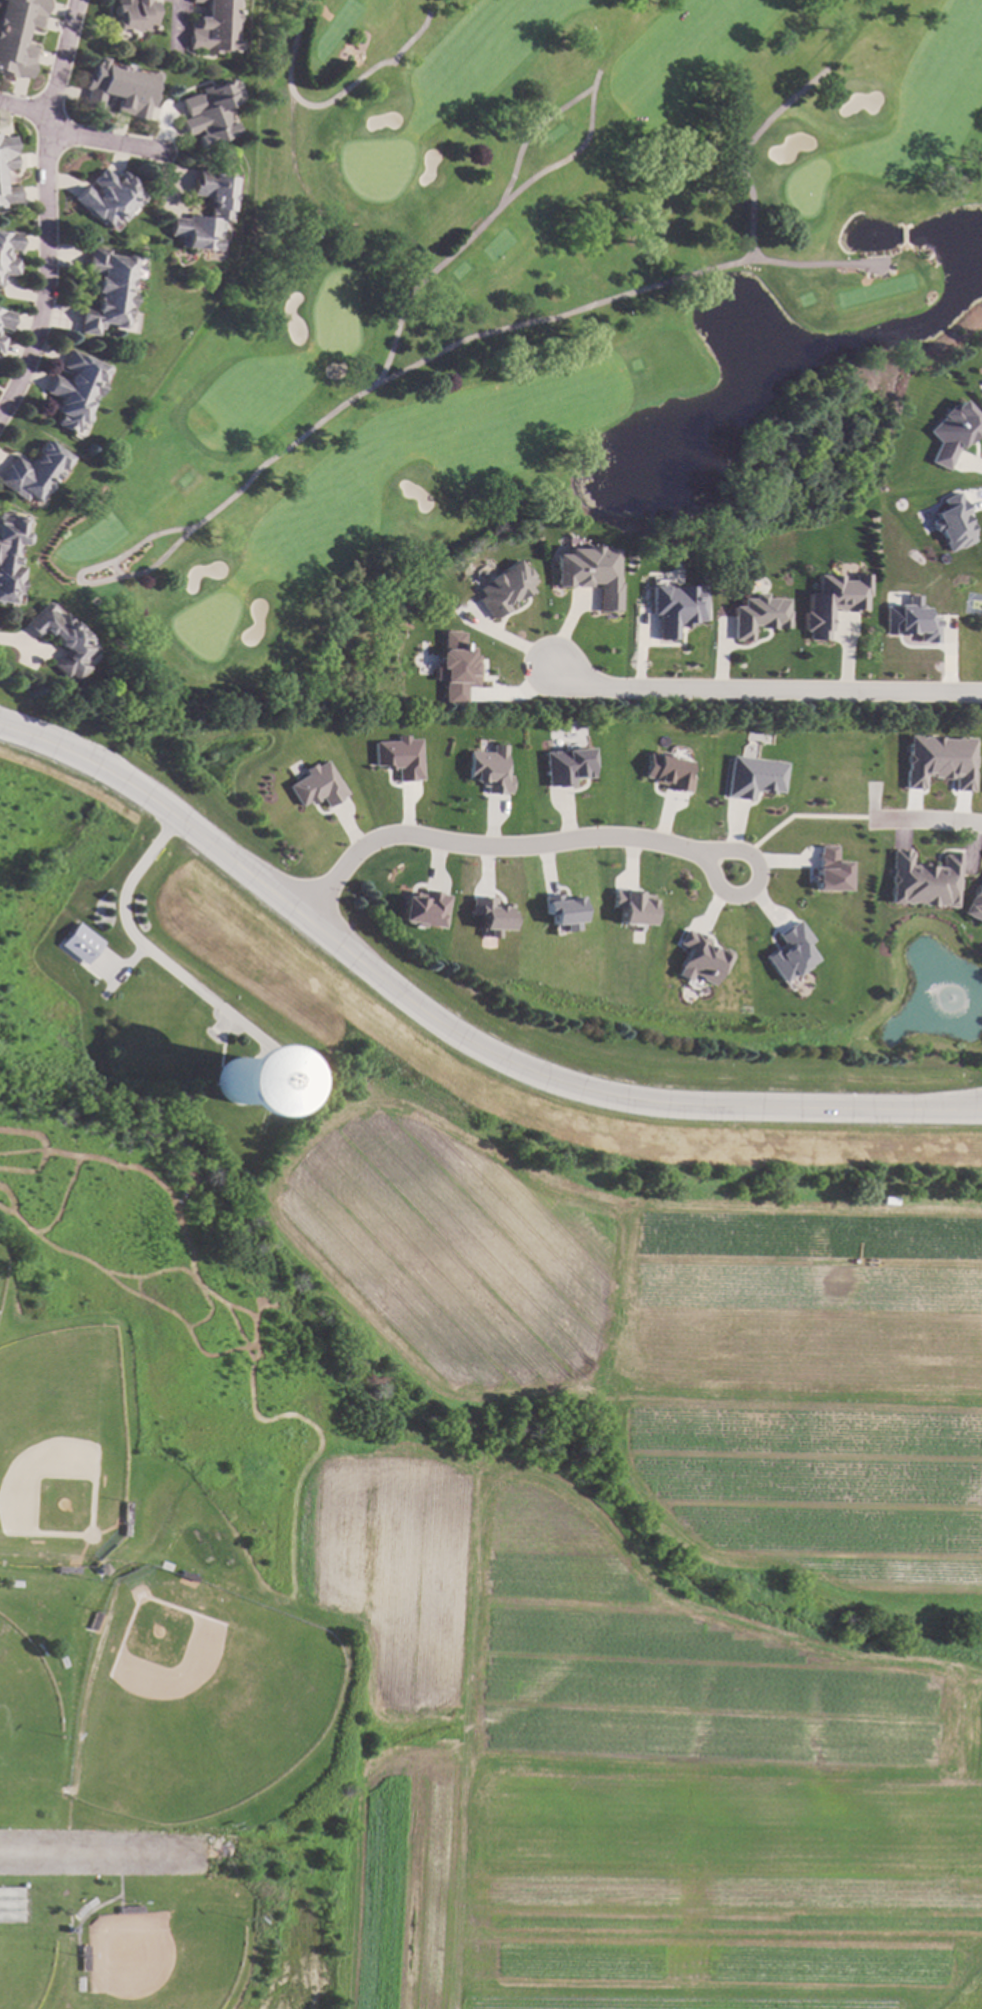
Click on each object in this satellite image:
building: (134, 15)
road: (175, 17)
building: (214, 27)
building: (19, 35)
building: (121, 88)
road: (329, 101)
road: (22, 108)
building: (210, 113)
road: (102, 134)
building: (149, 134)
road: (527, 139)
road: (745, 154)
building: (1, 177)
building: (110, 197)
building: (219, 203)
road: (45, 210)
building: (34, 223)
building: (8, 254)
building: (108, 291)
park: (532, 293)
road: (627, 294)
building: (5, 319)
building: (1, 341)
building: (75, 390)
road: (367, 391)
building: (947, 432)
building: (33, 472)
building: (952, 523)
building: (10, 554)
building: (584, 573)
road: (79, 581)
building: (498, 593)
building: (828, 602)
building: (670, 608)
building: (752, 615)
building: (907, 621)
building: (63, 641)
building: (455, 667)
road: (763, 690)
building: (397, 757)
building: (938, 761)
building: (562, 766)
building: (488, 770)
building: (663, 771)
building: (749, 776)
building: (315, 786)
road: (803, 817)
road: (925, 819)
road: (490, 845)
building: (823, 870)
building: (924, 880)
road: (711, 887)
building: (975, 905)
building: (633, 907)
building: (421, 909)
building: (556, 911)
building: (485, 916)
building: (80, 944)
road: (152, 954)
building: (694, 957)
building: (785, 959)
road: (449, 1028)
water tower: (242, 1080)
park: (2, 1271)
crop: (686, 1339)
park: (62, 1450)
building: (128, 1513)
building: (126, 1530)
building: (104, 1568)
building: (69, 1570)
building: (190, 1576)
building: (96, 1620)
park: (26, 1699)
park: (195, 1699)
crop: (628, 1771)
road: (89, 1857)
building: (128, 1909)
building: (84, 1958)
park: (162, 1961)
park: (25, 1964)

